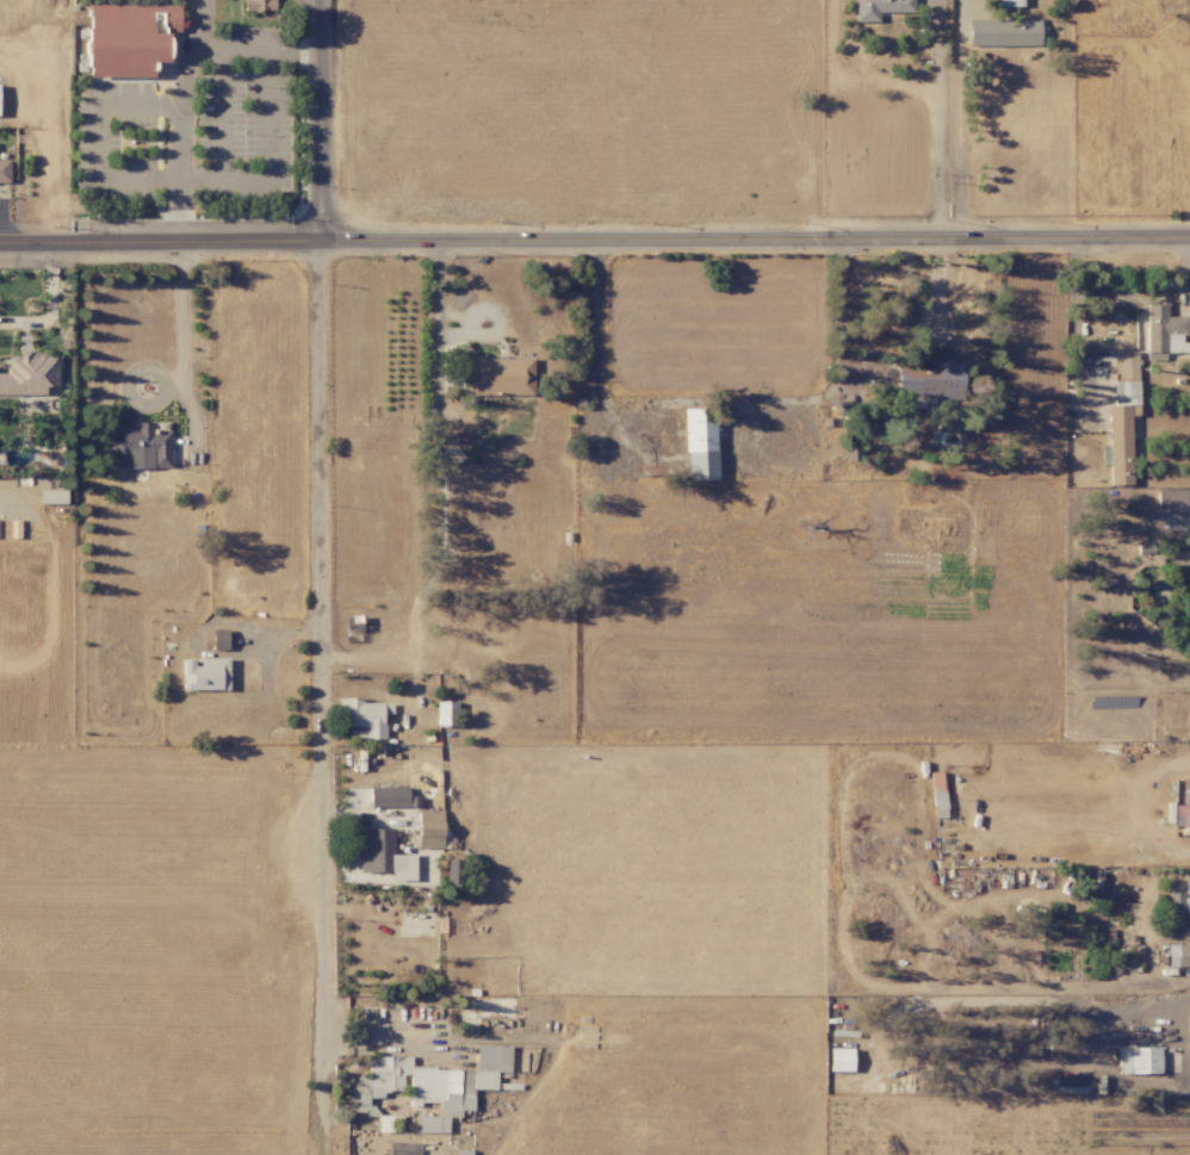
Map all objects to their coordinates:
building: (1009, 2)
building: (259, 5)
building: (879, 8)
road: (194, 24)
building: (1003, 32)
building: (129, 38)
road: (186, 79)
road: (218, 113)
road: (954, 119)
road: (97, 139)
road: (268, 159)
building: (4, 172)
road: (595, 241)
road: (49, 305)
road: (839, 310)
road: (438, 315)
building: (1164, 331)
road: (181, 348)
building: (1124, 365)
building: (27, 373)
building: (498, 377)
building: (929, 379)
building: (1120, 430)
building: (700, 445)
building: (140, 446)
building: (51, 497)
building: (1171, 501)
road: (326, 557)
building: (1189, 585)
building: (219, 639)
building: (205, 675)
building: (1188, 710)
building: (446, 714)
building: (362, 718)
building: (391, 797)
building: (429, 828)
building: (384, 856)
building: (453, 873)
building: (1179, 900)
building: (1178, 955)
road: (390, 1044)
building: (839, 1060)
building: (1138, 1060)
building: (429, 1085)

